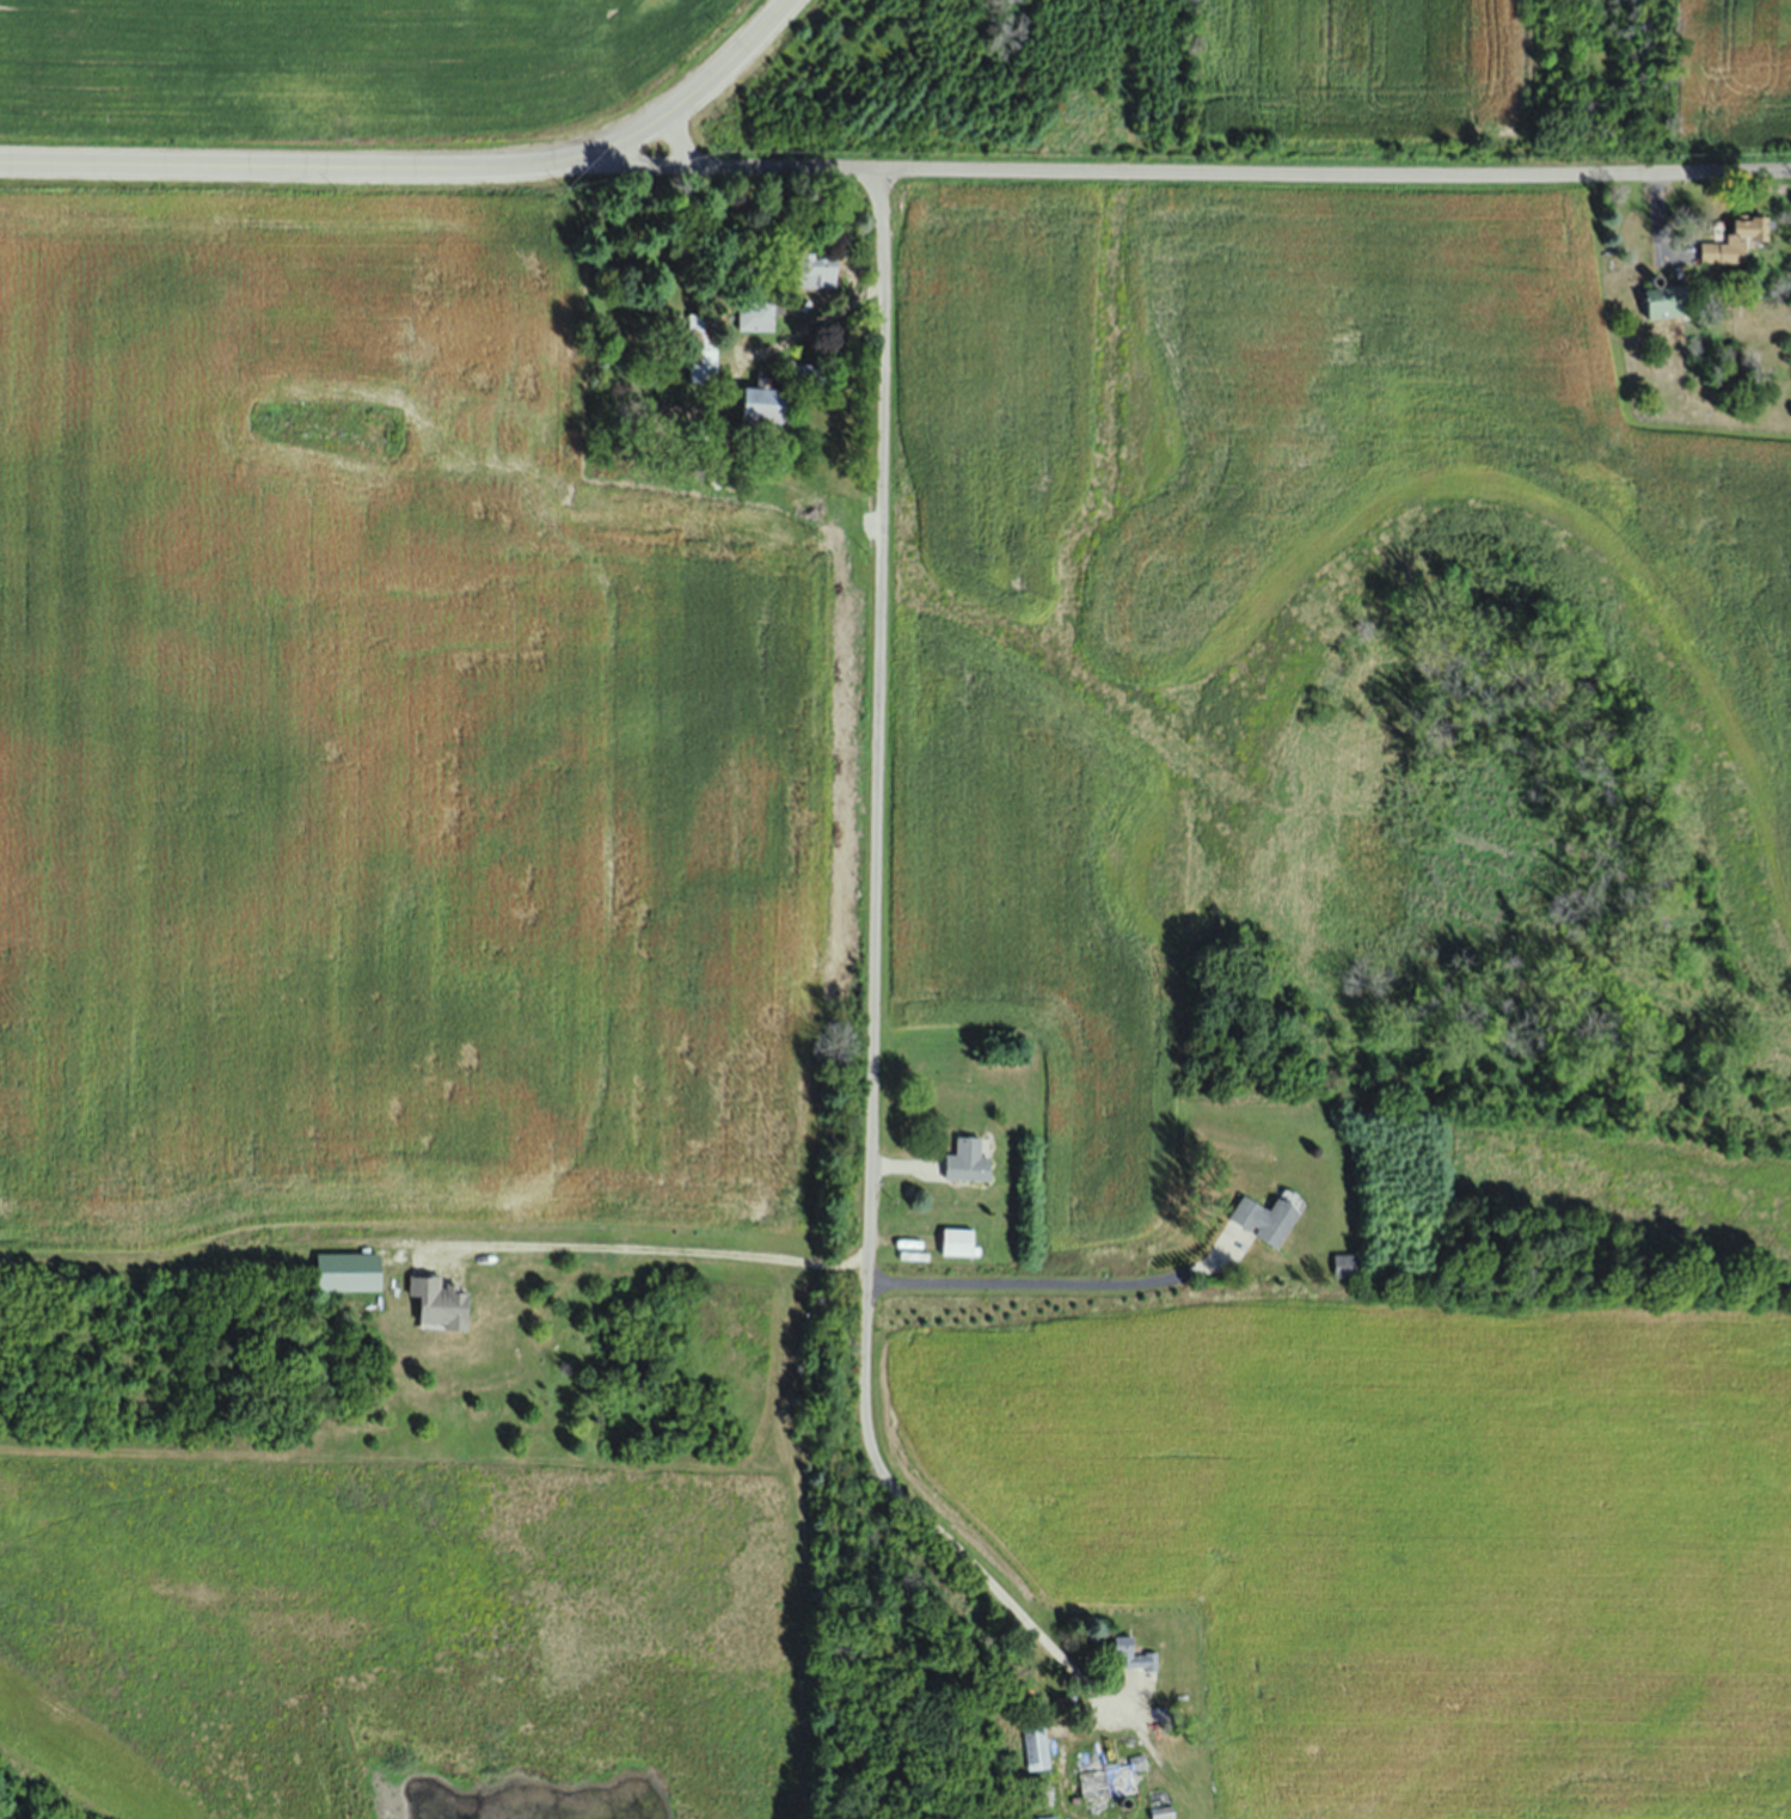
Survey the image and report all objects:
road: (681, 145)
road: (427, 169)
road: (1178, 178)
building: (1743, 241)
building: (828, 270)
building: (760, 316)
building: (707, 347)
building: (658, 403)
building: (774, 410)
road: (881, 957)
building: (971, 1160)
building: (1269, 1218)
road: (667, 1241)
building: (962, 1242)
building: (1348, 1267)
road: (1028, 1273)
building: (446, 1303)
building: (1115, 1781)
building: (1044, 1817)

